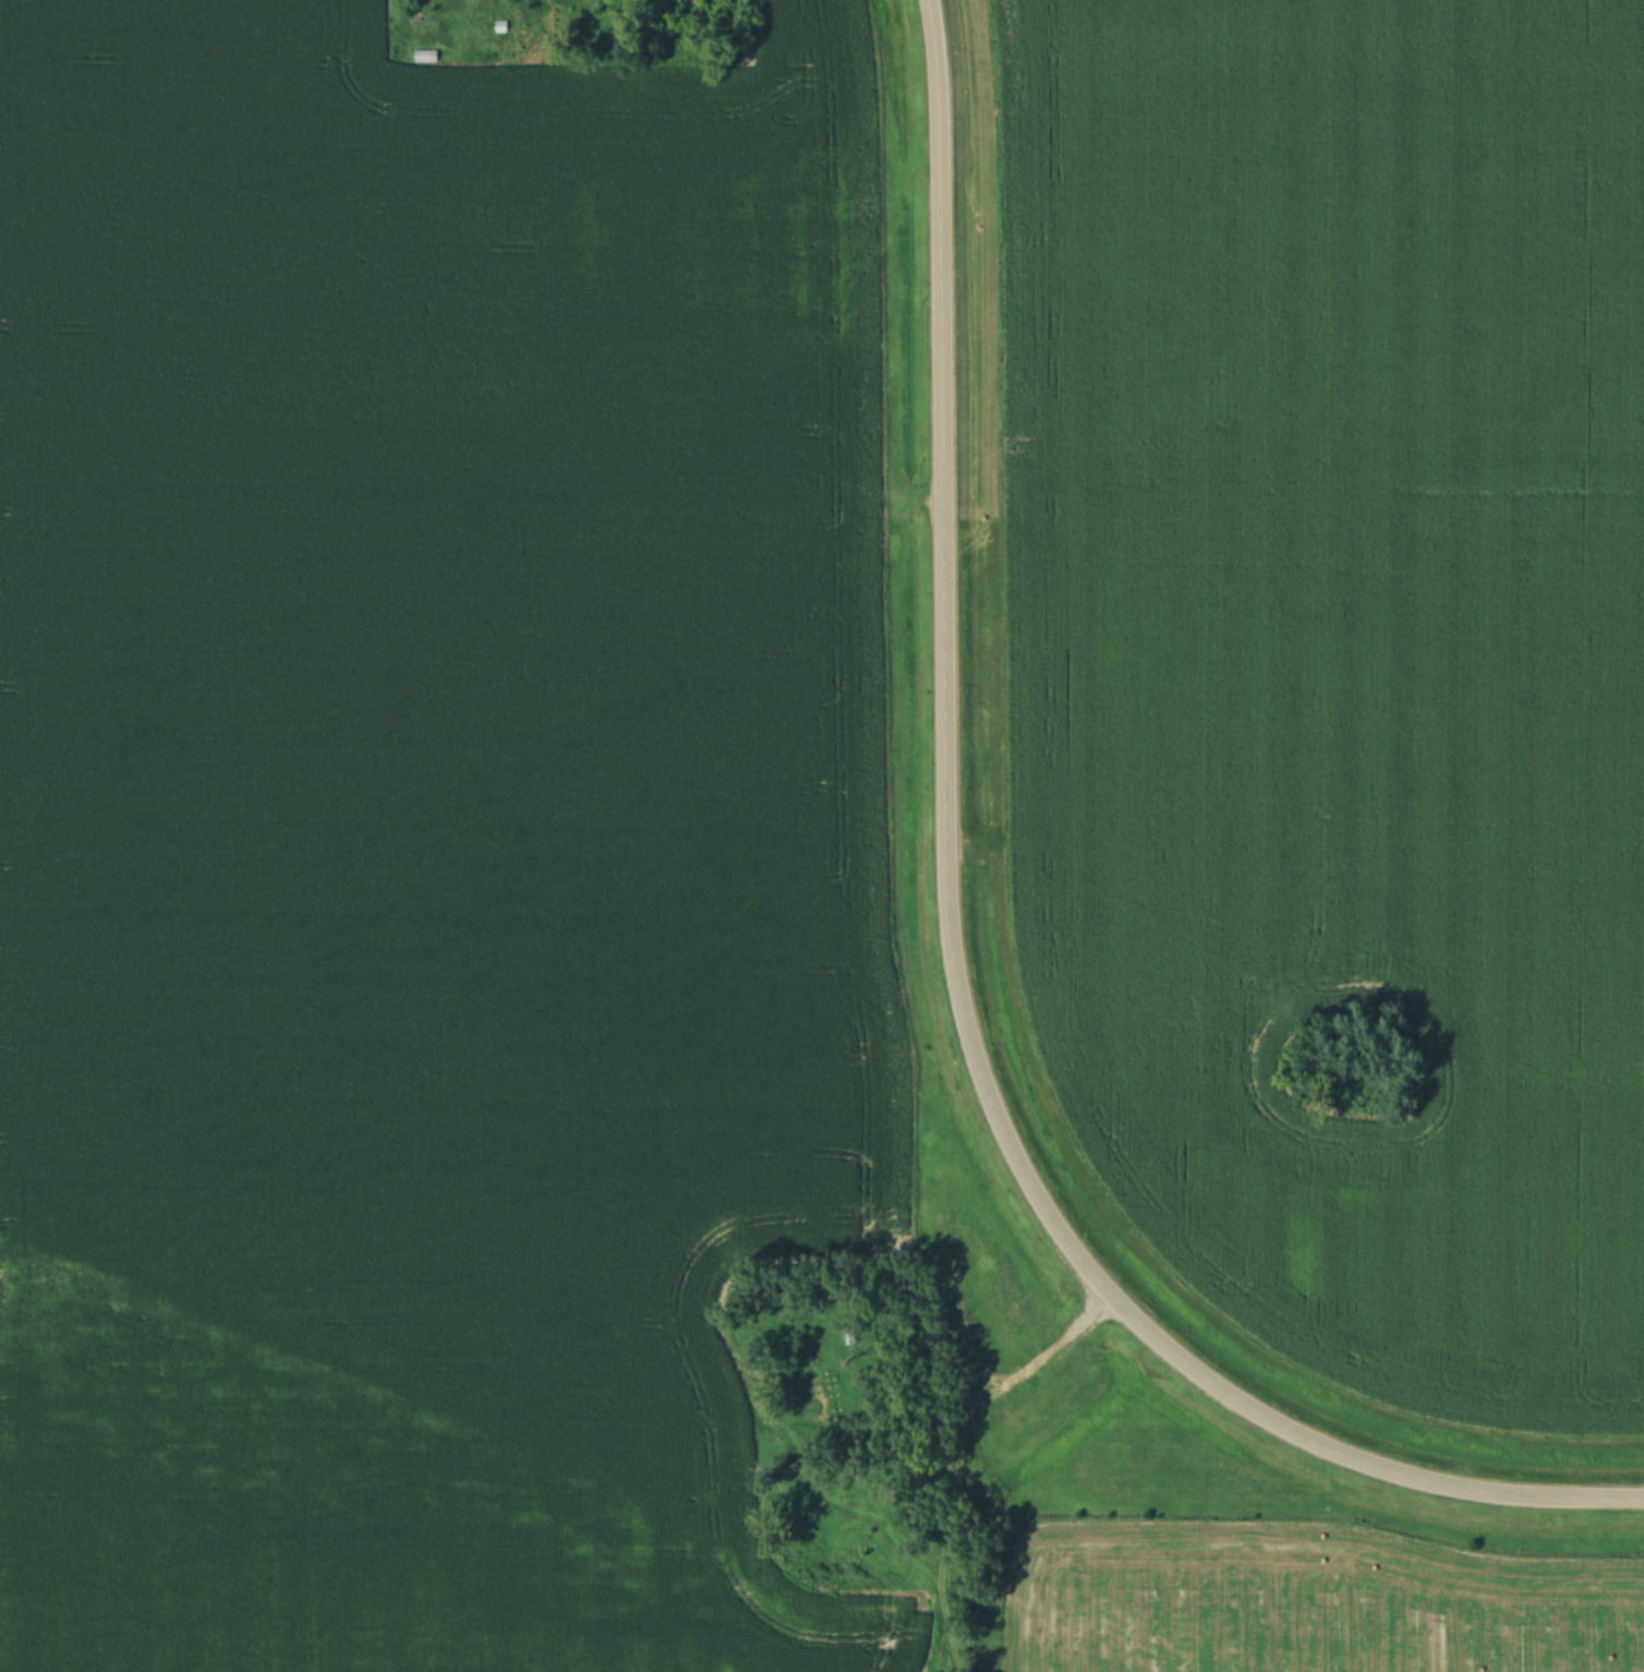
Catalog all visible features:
road: (956, 962)

